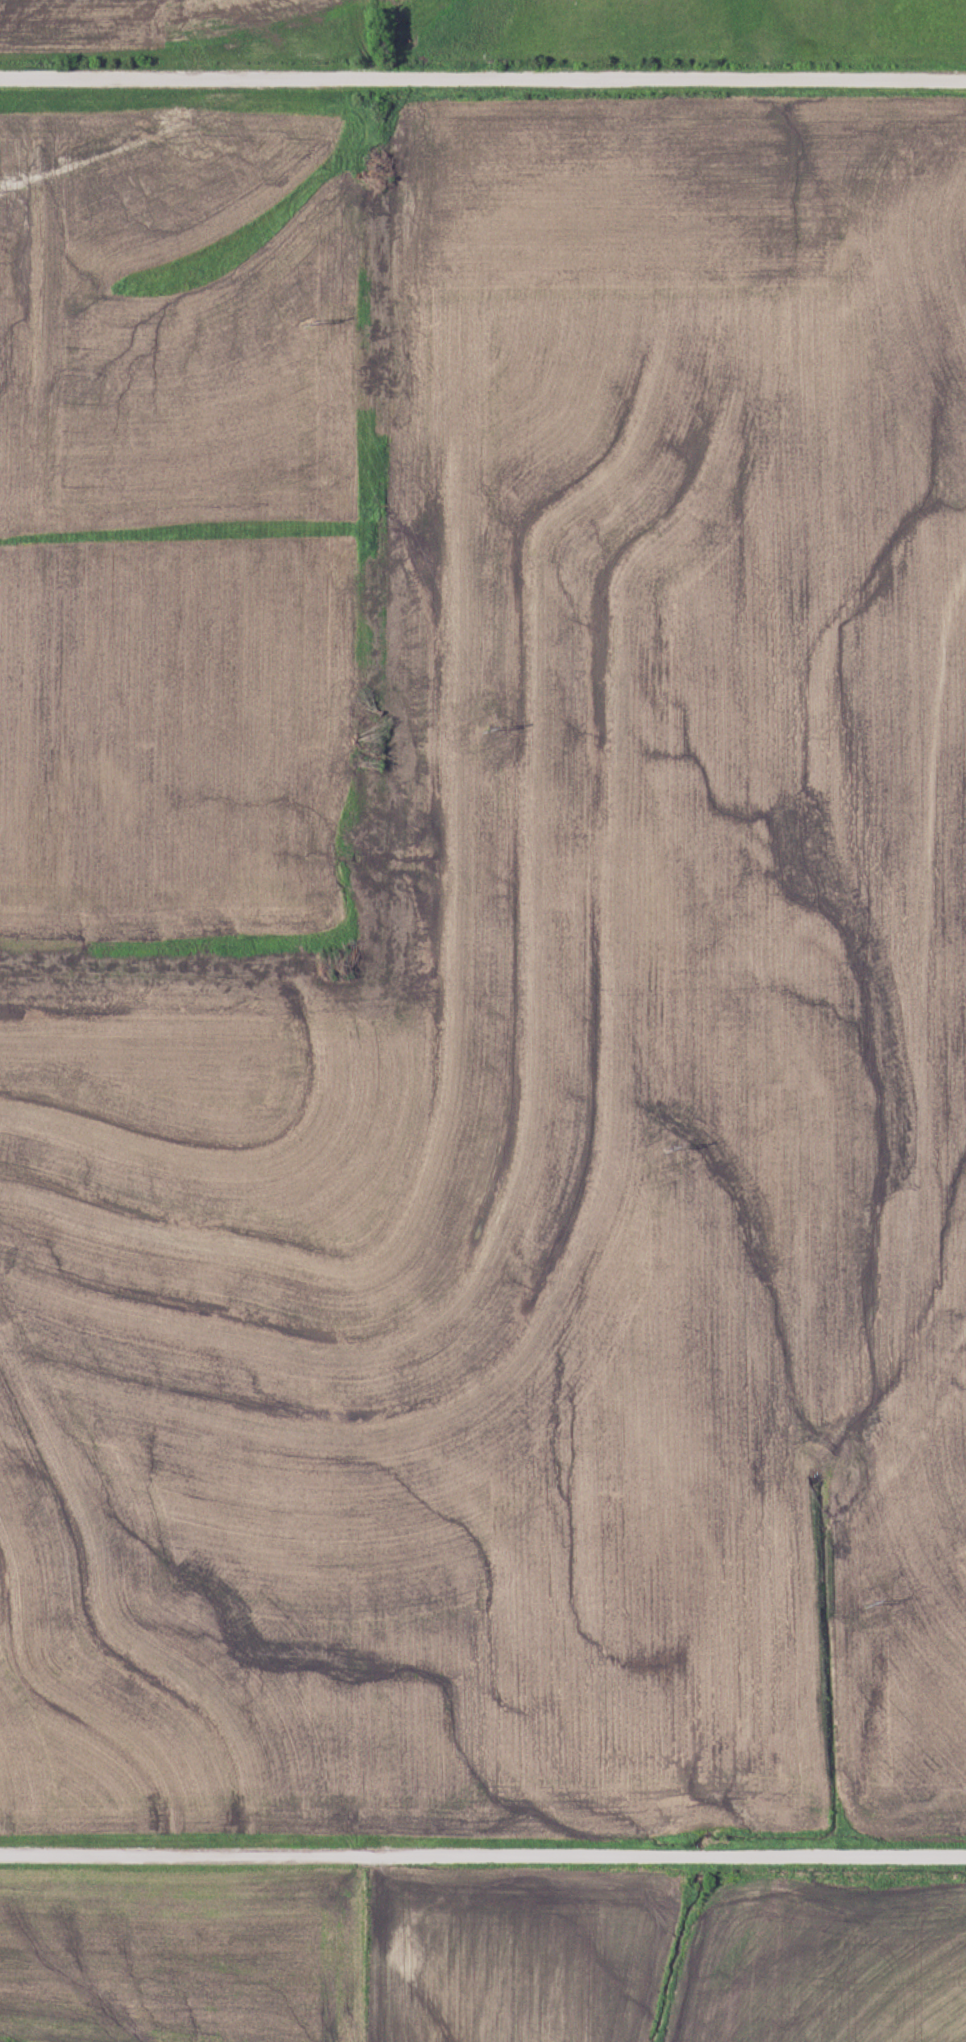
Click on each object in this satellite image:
road: (483, 80)
road: (483, 1855)

